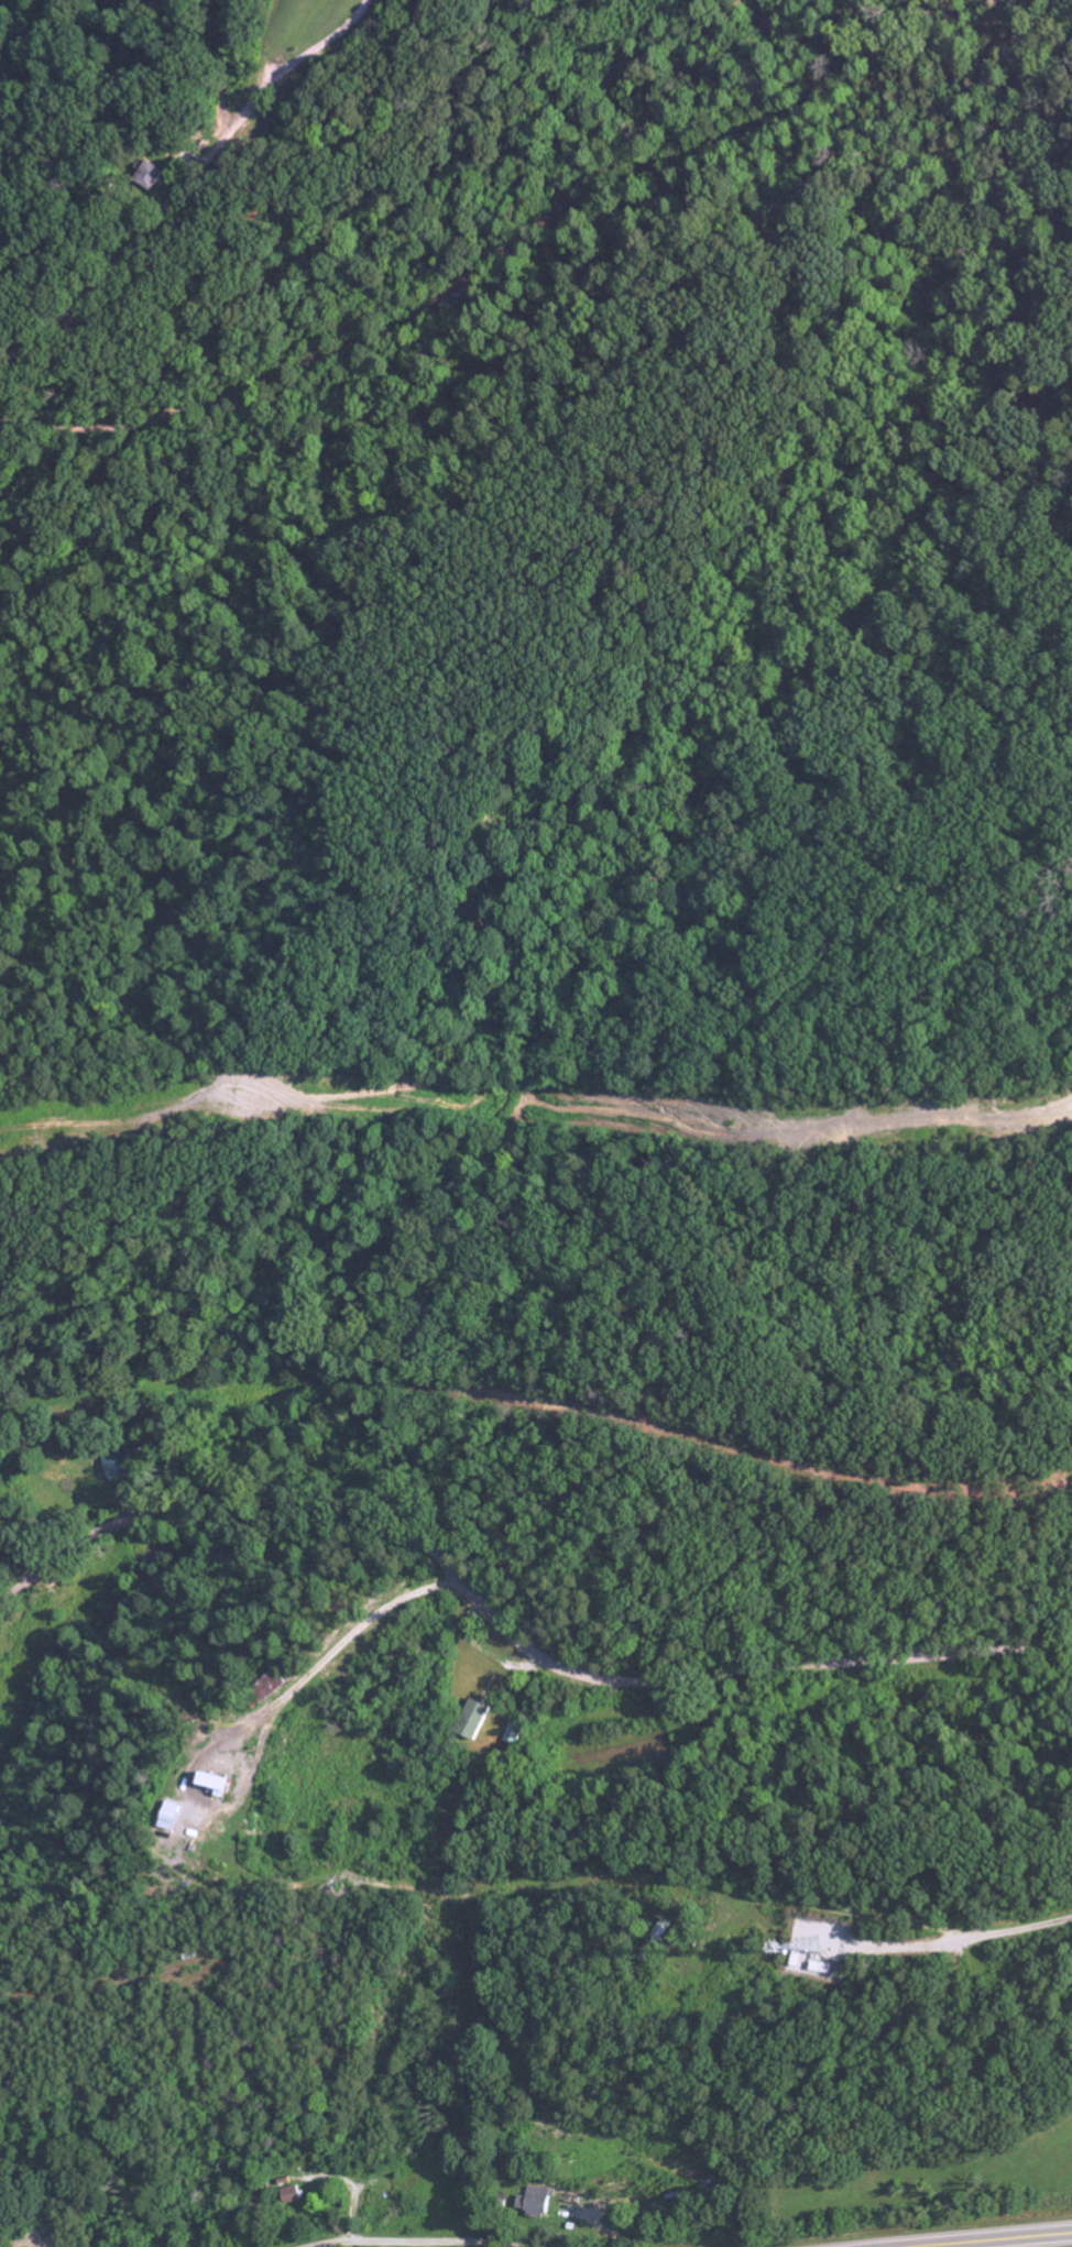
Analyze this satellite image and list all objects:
road: (326, 43)
road: (146, 231)
road: (504, 1630)
road: (348, 1649)
building: (252, 1691)
building: (474, 1720)
building: (515, 1738)
building: (218, 1780)
building: (200, 1785)
building: (168, 1813)
road: (857, 1909)
building: (295, 2195)
building: (535, 2203)
road: (1002, 2240)
road: (24, 2243)
road: (419, 2243)

